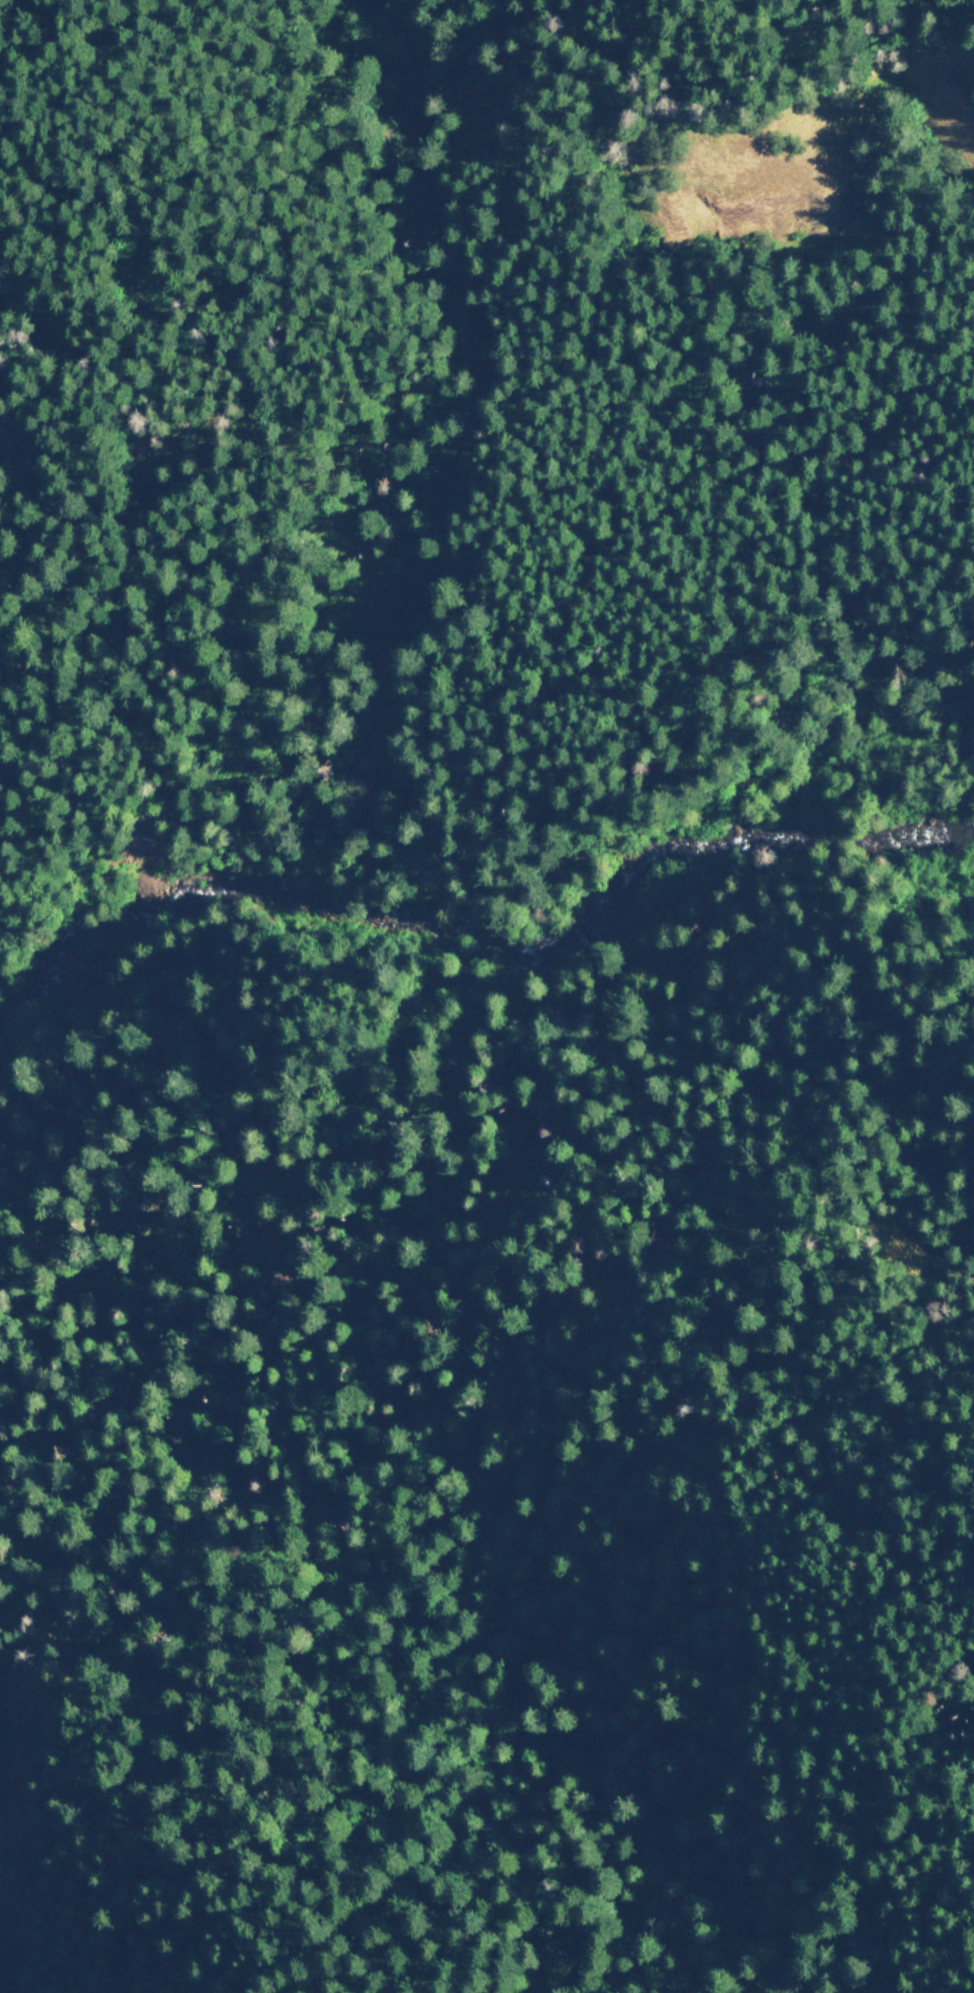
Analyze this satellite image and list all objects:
river: (484, 952)

